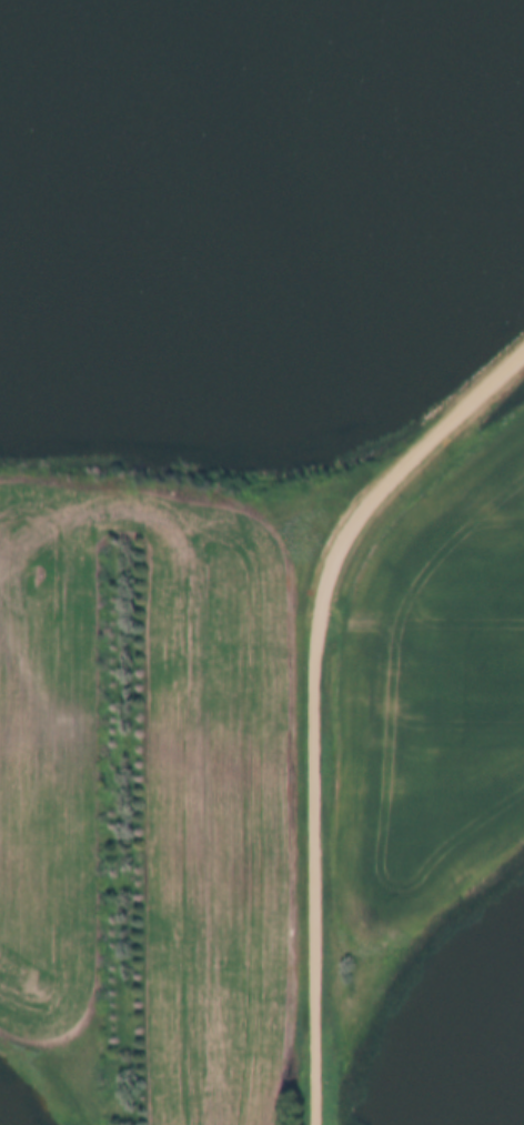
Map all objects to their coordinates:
road: (315, 699)

